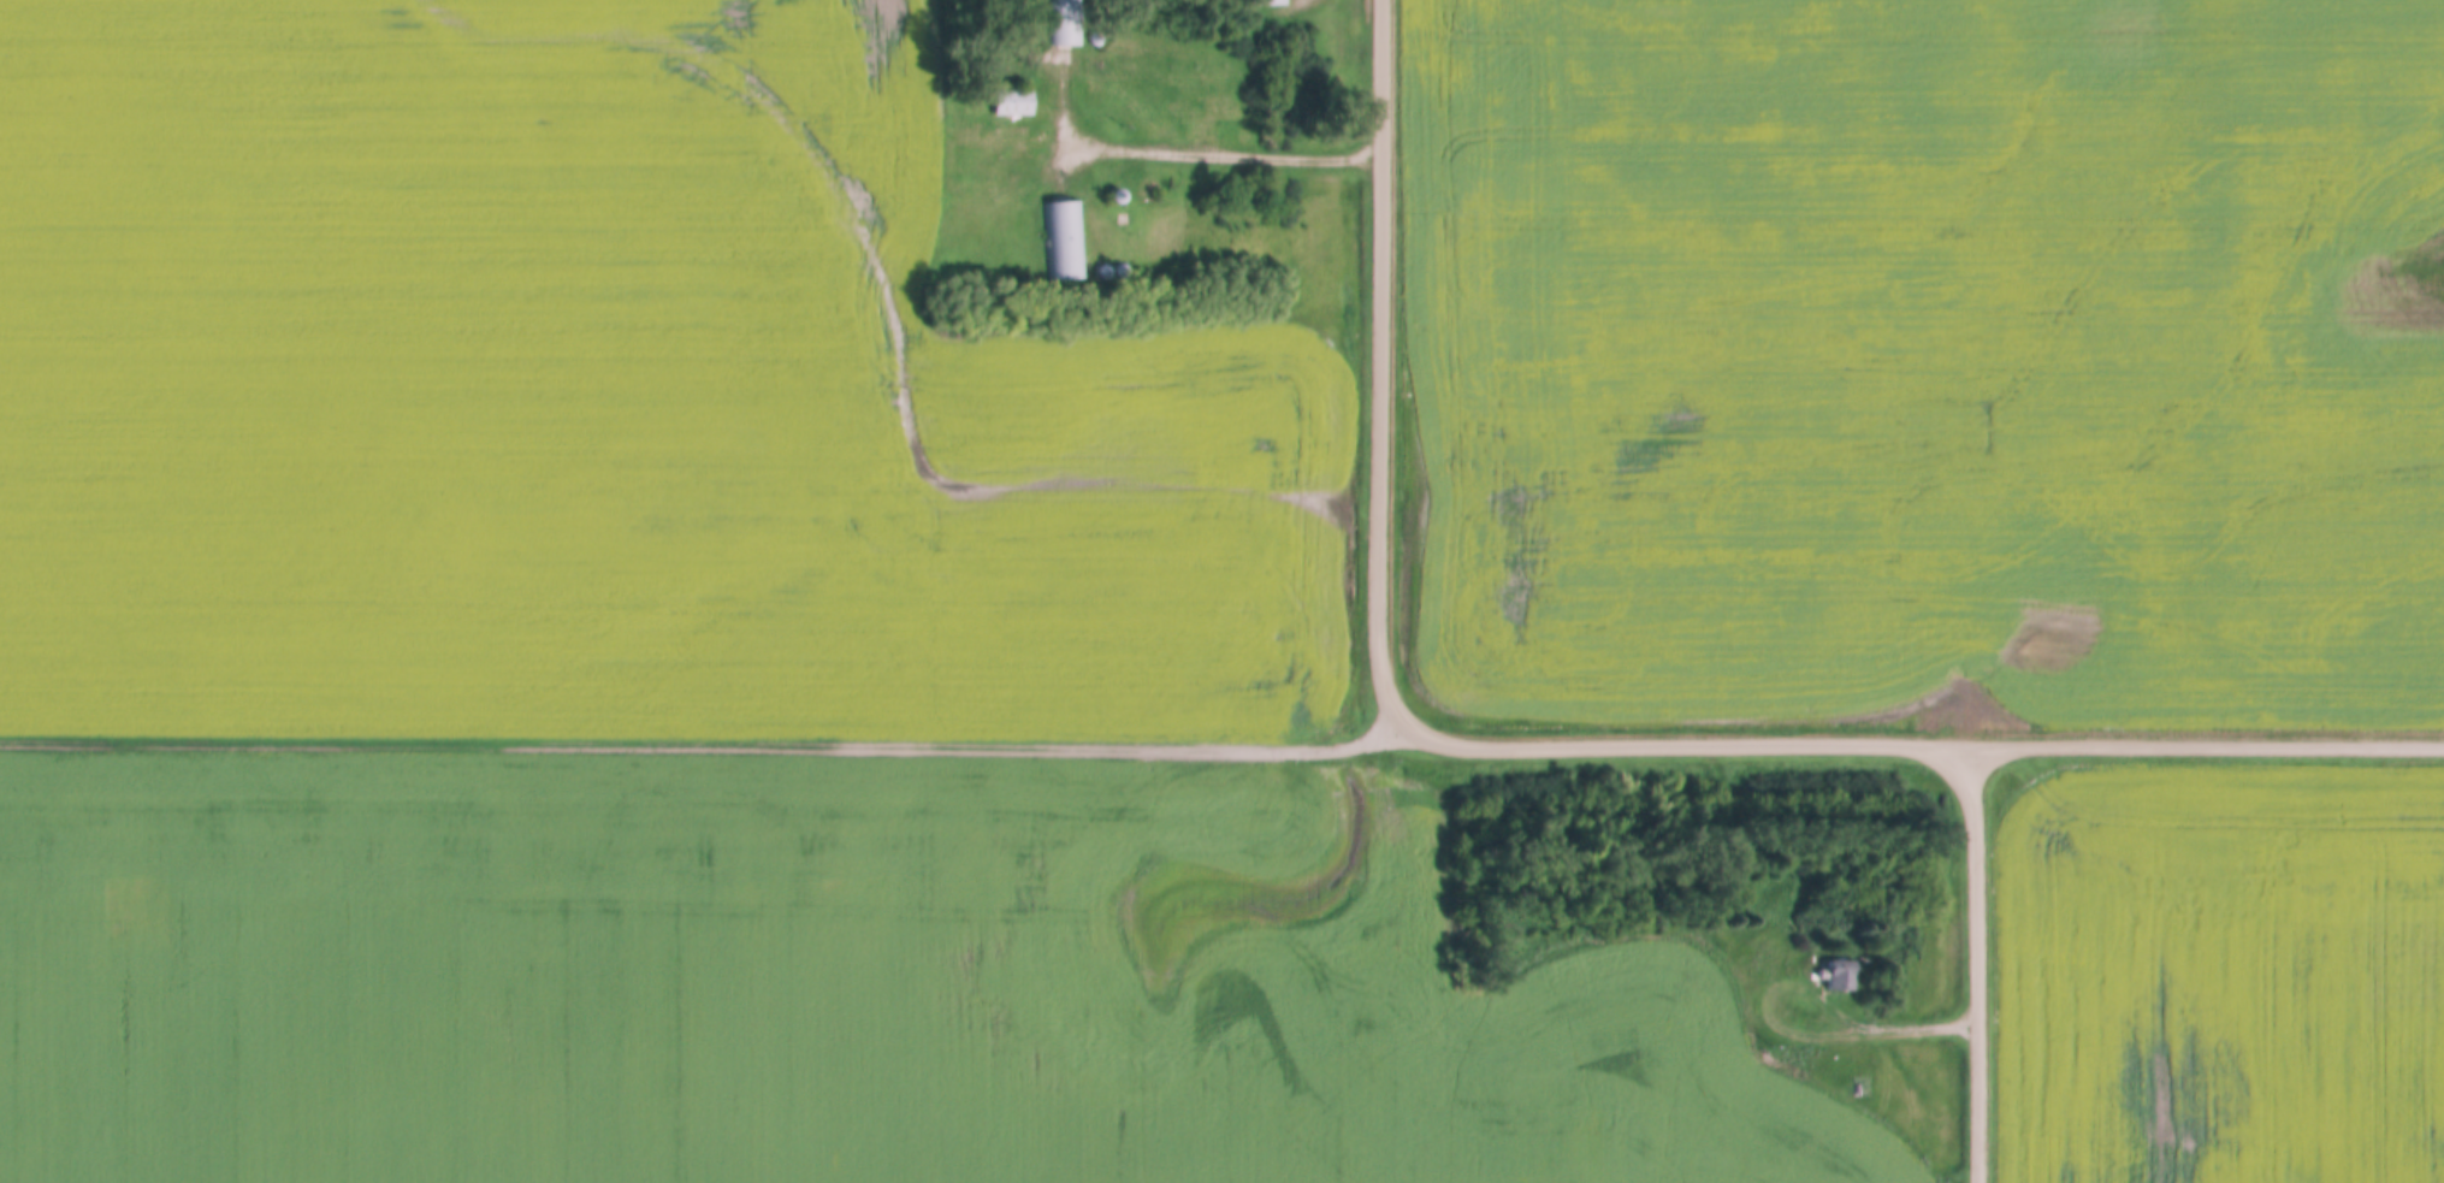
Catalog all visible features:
building: (1262, 2)
building: (1066, 23)
building: (1011, 101)
road: (1189, 146)
building: (1063, 239)
road: (1385, 363)
road: (1924, 740)
road: (708, 743)
road: (1980, 962)
building: (1840, 972)
road: (1899, 1023)

